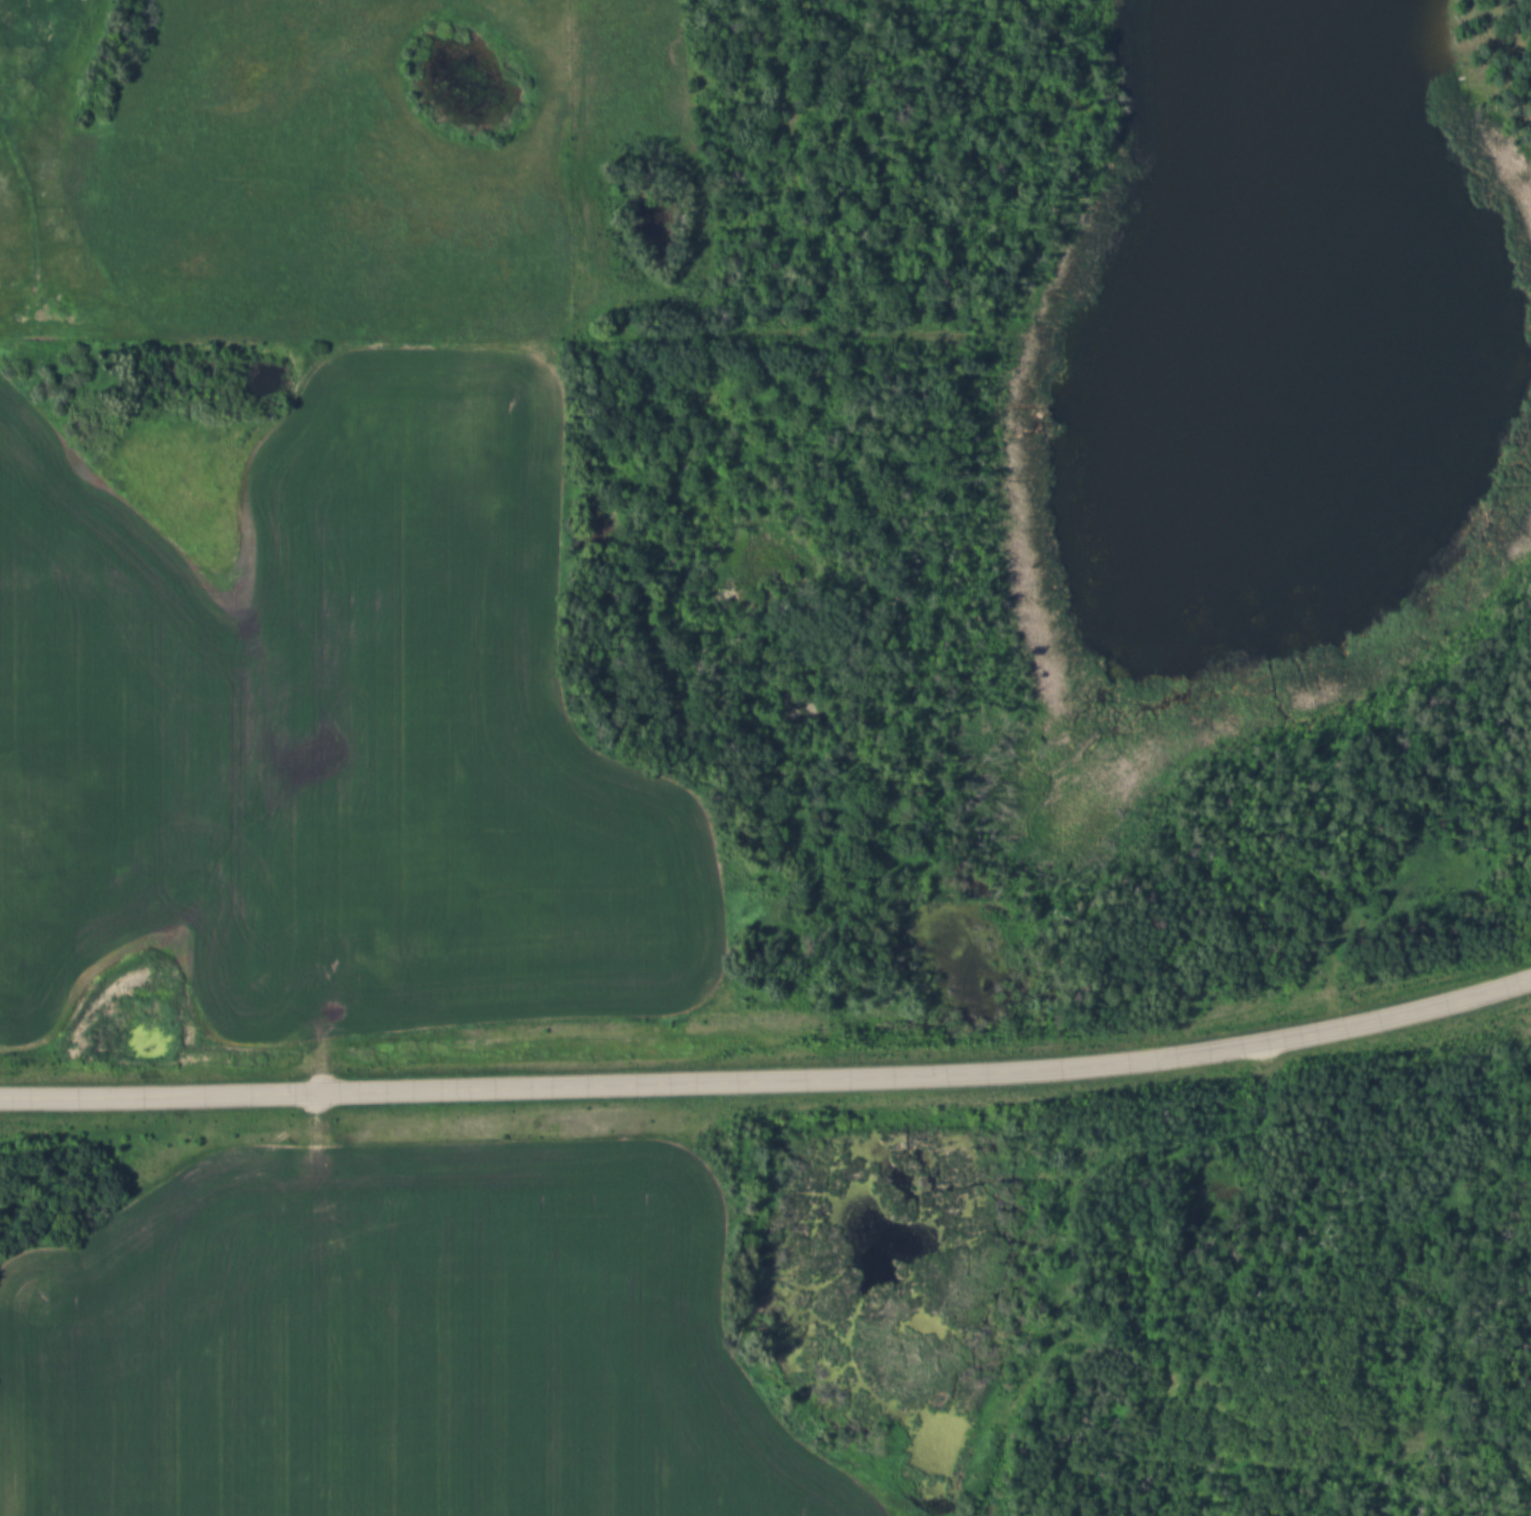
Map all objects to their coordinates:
road: (450, 337)
road: (770, 1084)

